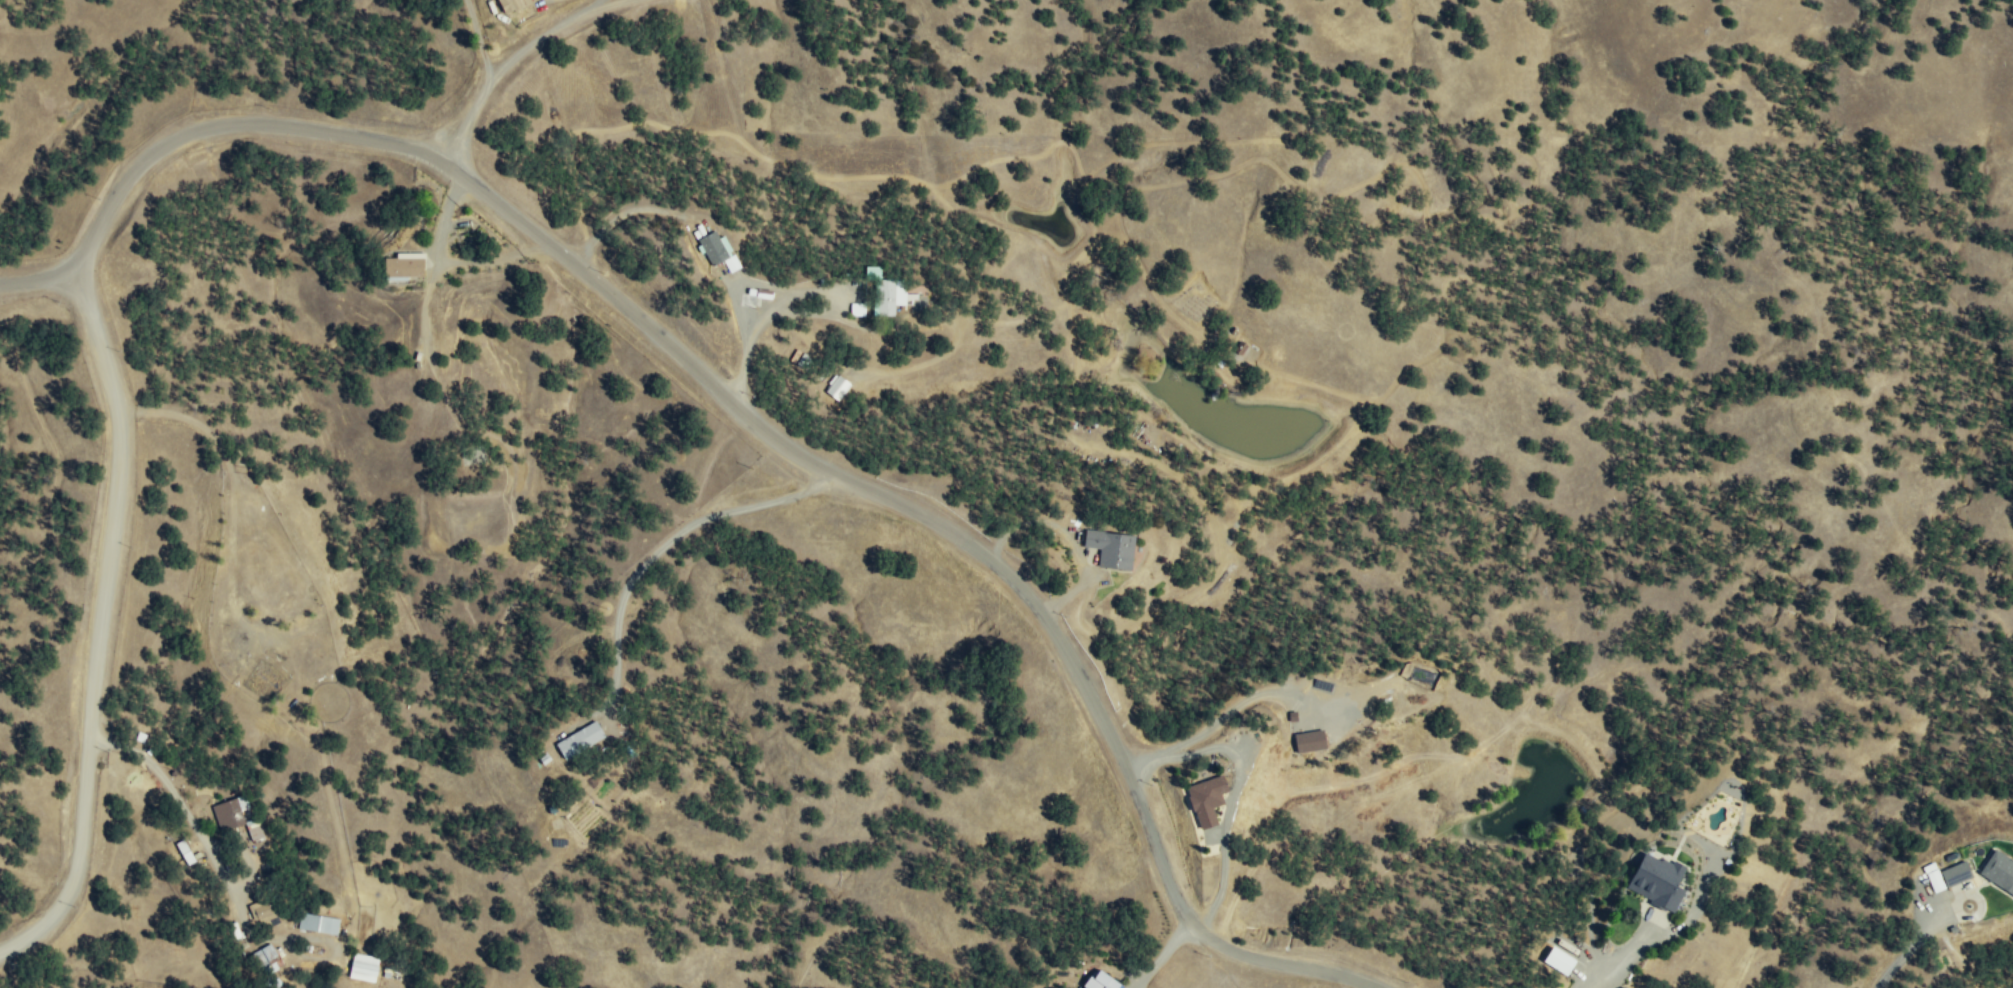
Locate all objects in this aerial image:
building: (510, 5)
road: (508, 62)
road: (703, 247)
building: (717, 249)
building: (402, 267)
road: (38, 283)
road: (823, 288)
building: (888, 297)
building: (747, 302)
building: (837, 387)
road: (117, 405)
road: (968, 536)
road: (666, 545)
building: (1111, 549)
building: (578, 738)
building: (1309, 740)
building: (1205, 798)
building: (236, 818)
building: (184, 851)
building: (1998, 870)
building: (1946, 874)
building: (1656, 880)
road: (227, 884)
building: (263, 913)
building: (318, 923)
road: (1168, 949)
building: (267, 957)
building: (1558, 959)
road: (1613, 959)
building: (363, 967)
building: (1100, 980)

